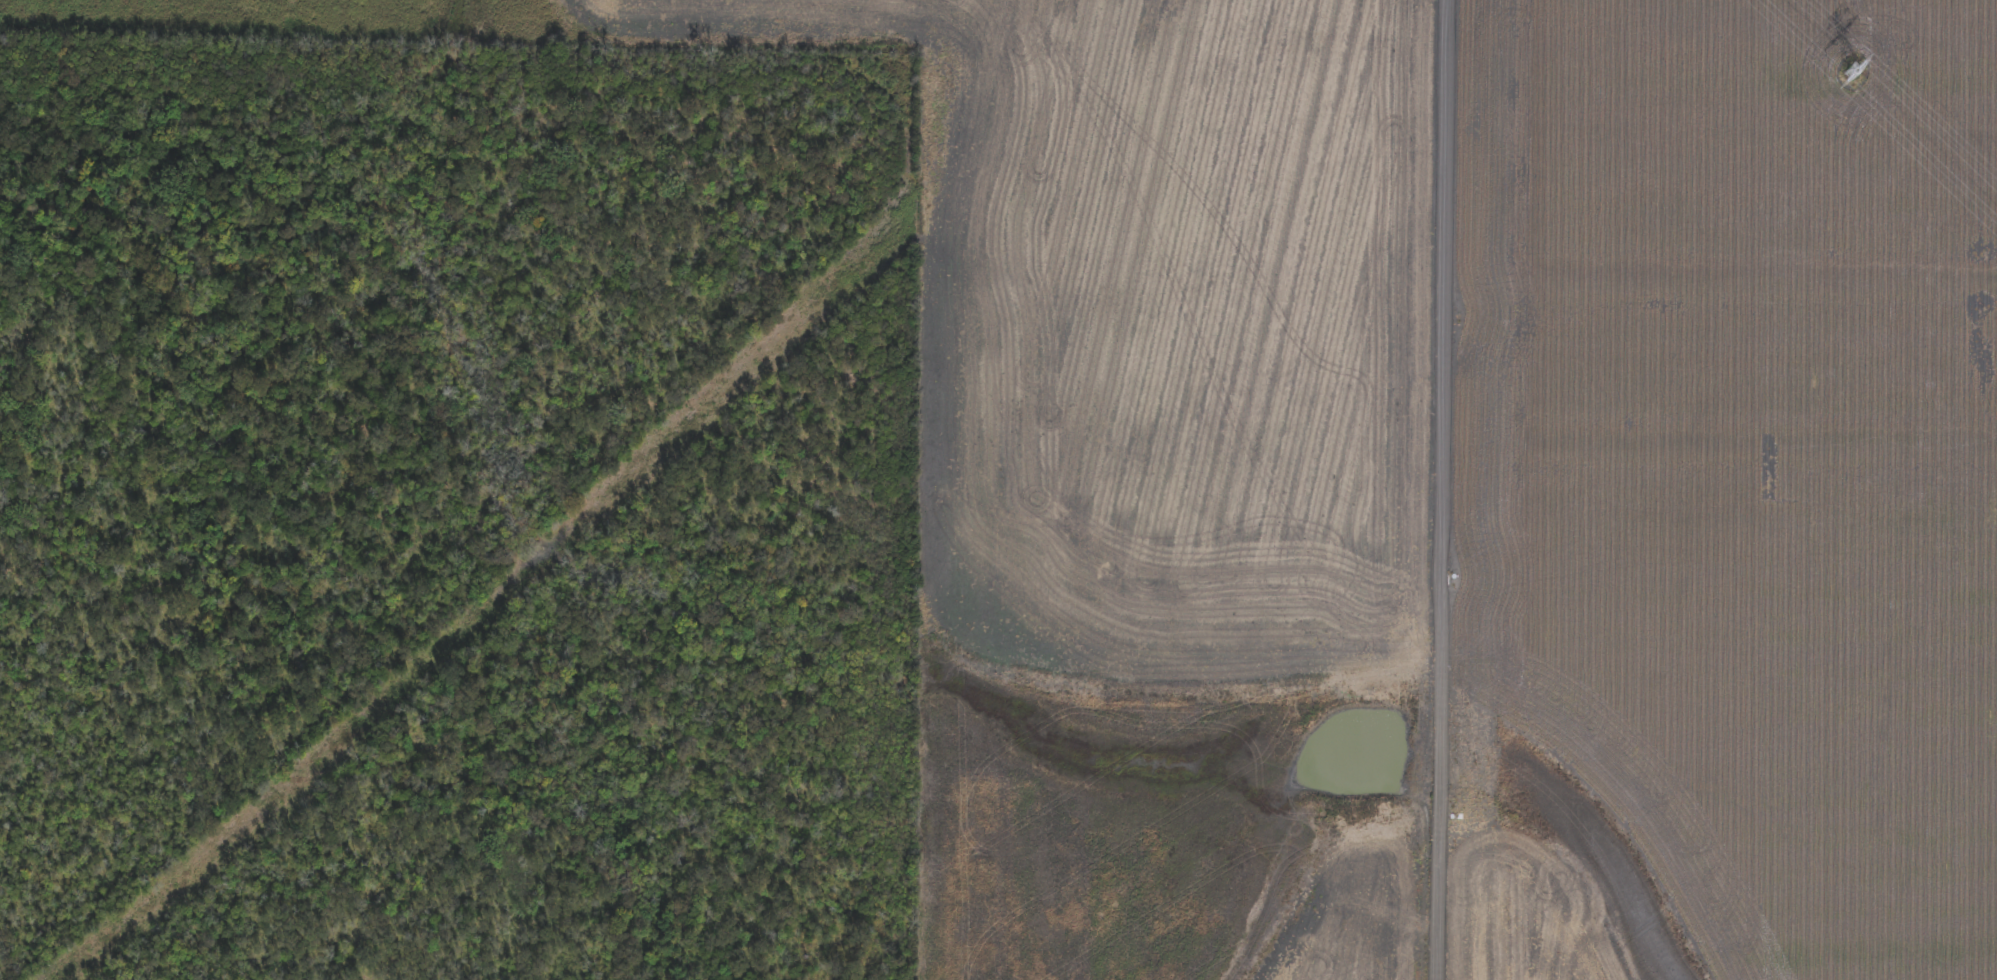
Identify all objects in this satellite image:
power tower: (1857, 70)

